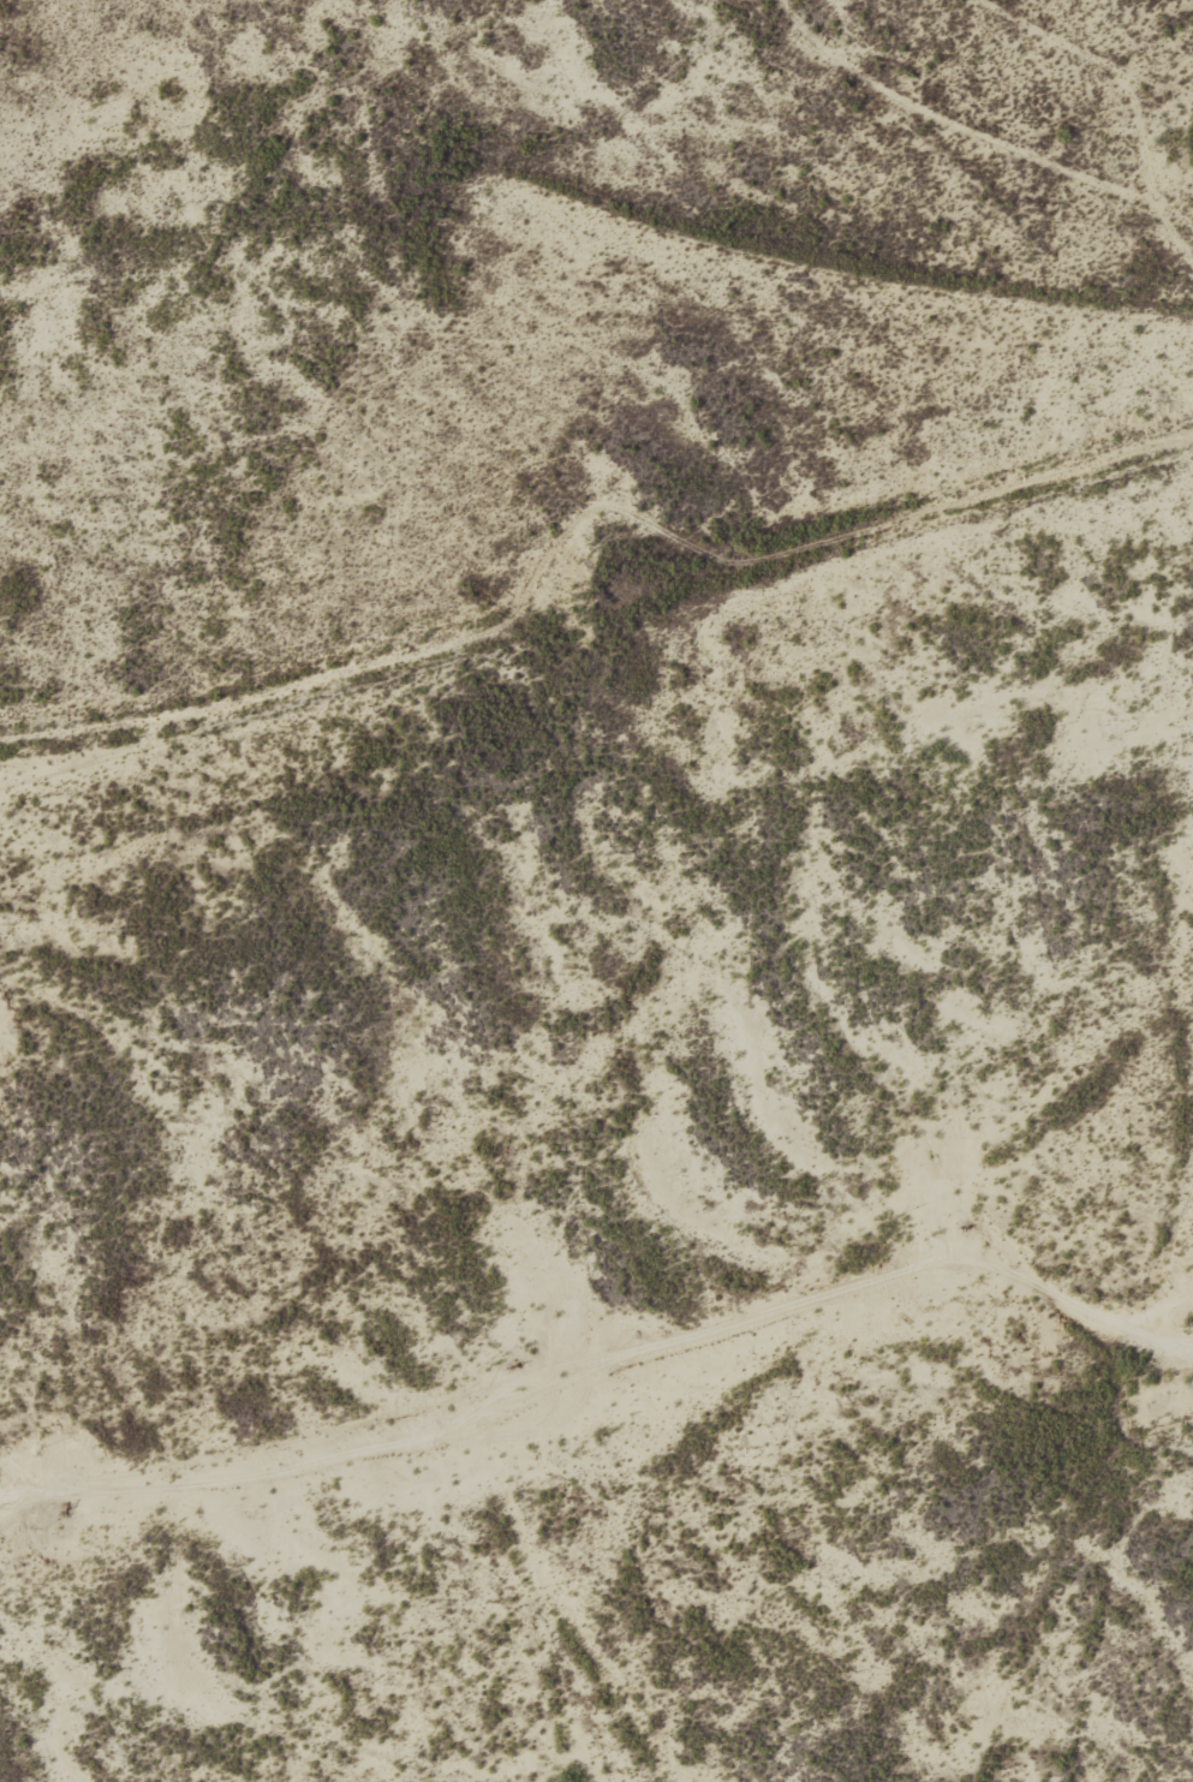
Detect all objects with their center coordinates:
road: (579, 522)
road: (648, 1346)
road: (556, 1592)
road: (26, 1736)

